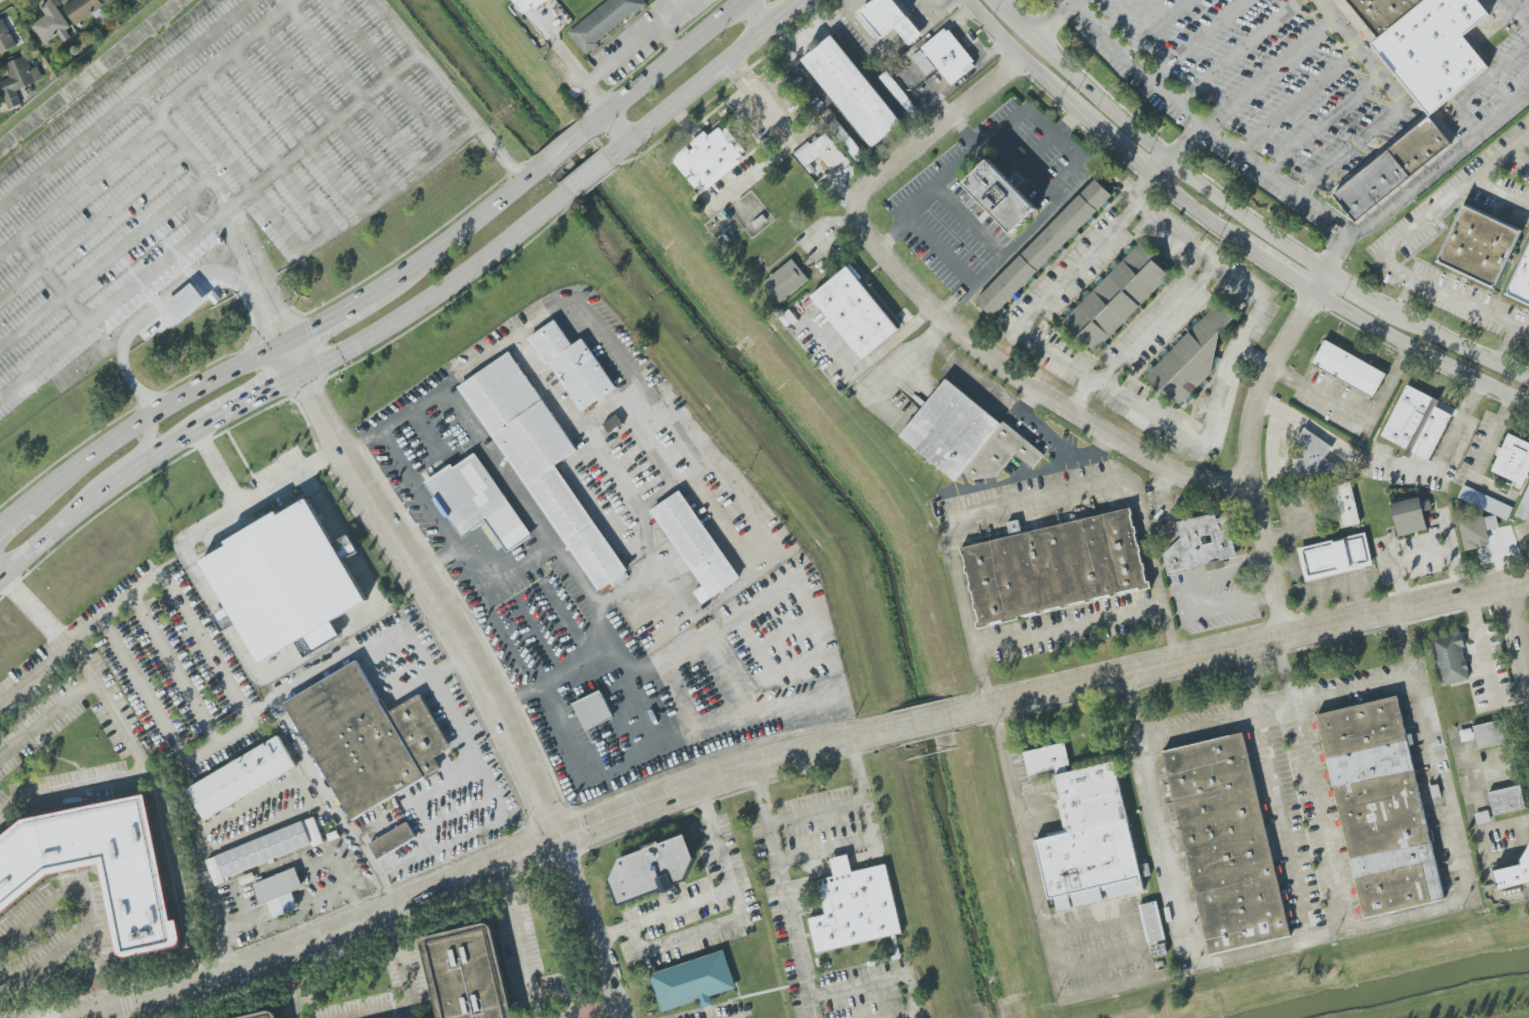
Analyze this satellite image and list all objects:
road: (333, 1)
road: (1065, 2)
road: (282, 3)
road: (288, 3)
road: (841, 3)
road: (847, 3)
building: (526, 5)
road: (978, 8)
building: (82, 9)
road: (757, 11)
road: (937, 13)
road: (1114, 14)
road: (1055, 15)
building: (890, 20)
building: (604, 21)
road: (1026, 21)
road: (927, 22)
building: (52, 25)
road: (1155, 28)
road: (912, 35)
road: (668, 37)
road: (1005, 38)
building: (6, 39)
road: (1197, 40)
road: (871, 42)
building: (1426, 44)
road: (199, 46)
road: (559, 46)
road: (624, 50)
road: (1238, 51)
building: (949, 56)
road: (1056, 57)
road: (221, 58)
road: (423, 63)
road: (662, 63)
building: (923, 63)
road: (390, 74)
road: (702, 79)
building: (19, 80)
building: (892, 86)
road: (1480, 87)
road: (1250, 90)
building: (852, 91)
road: (1065, 96)
road: (1299, 102)
road: (1400, 105)
road: (328, 111)
road: (376, 115)
road: (1324, 125)
road: (1206, 127)
road: (617, 128)
road: (300, 131)
road: (786, 134)
road: (969, 134)
road: (1052, 138)
building: (846, 140)
road: (563, 146)
road: (71, 150)
road: (500, 151)
building: (821, 152)
road: (268, 155)
road: (1132, 155)
building: (710, 158)
road: (1519, 159)
building: (1388, 169)
parking lot: (212, 171)
road: (240, 174)
road: (588, 177)
road: (1193, 179)
road: (1423, 179)
road: (209, 181)
road: (81, 186)
road: (1501, 195)
road: (1453, 196)
building: (997, 199)
road: (243, 206)
road: (1210, 219)
road: (233, 220)
road: (92, 225)
road: (971, 225)
road: (218, 226)
road: (207, 228)
road: (918, 229)
road: (459, 230)
road: (896, 235)
building: (1473, 241)
building: (1042, 247)
road: (411, 249)
road: (218, 252)
road: (103, 262)
road: (268, 263)
building: (1520, 274)
road: (231, 275)
road: (1291, 276)
building: (786, 281)
road: (55, 282)
road: (173, 287)
road: (1355, 289)
road: (440, 291)
road: (1451, 296)
building: (1116, 298)
building: (185, 303)
road: (274, 310)
road: (940, 311)
building: (855, 312)
road: (331, 316)
road: (155, 317)
road: (1158, 324)
road: (130, 332)
road: (107, 336)
traffic signals: (288, 341)
road: (1453, 343)
road: (1511, 348)
building: (1195, 351)
road: (1422, 351)
road: (1252, 358)
building: (572, 366)
road: (895, 368)
building: (1348, 369)
road: (192, 373)
traffic signals: (303, 373)
road: (218, 378)
road: (257, 396)
road: (1081, 396)
road: (1356, 413)
road: (1148, 414)
building: (1416, 424)
road: (670, 428)
road: (426, 430)
road: (481, 430)
building: (965, 436)
road: (362, 440)
road: (1102, 444)
road: (1250, 445)
road: (168, 447)
road: (142, 449)
road: (1444, 454)
road: (1486, 456)
building: (1313, 458)
road: (327, 459)
building: (1513, 460)
road: (1071, 461)
building: (540, 463)
road: (215, 468)
road: (73, 470)
road: (1285, 476)
building: (476, 501)
road: (1039, 502)
building: (1485, 502)
road: (240, 503)
building: (1346, 505)
building: (1524, 506)
road: (628, 514)
building: (1410, 515)
road: (61, 527)
building: (1476, 531)
building: (1200, 543)
building: (695, 545)
road: (1422, 555)
building: (1335, 556)
building: (1054, 567)
road: (1296, 574)
road: (166, 578)
building: (287, 582)
road: (427, 588)
road: (1338, 588)
road: (1180, 602)
road: (1070, 629)
road: (1518, 631)
road: (616, 637)
road: (1241, 645)
road: (1480, 651)
road: (677, 655)
building: (1450, 658)
road: (1527, 659)
road: (50, 661)
road: (449, 665)
road: (176, 669)
road: (1281, 672)
road: (1250, 679)
road: (1276, 709)
building: (593, 711)
road: (705, 718)
road: (48, 720)
road: (920, 722)
building: (1484, 734)
building: (366, 739)
road: (578, 763)
road: (720, 776)
building: (241, 778)
road: (489, 783)
road: (74, 785)
building: (1506, 800)
road: (161, 802)
building: (1380, 807)
road: (817, 813)
building: (1482, 817)
road: (1321, 818)
road: (1285, 826)
building: (1085, 833)
building: (333, 835)
road: (872, 836)
traffic signals: (561, 839)
building: (392, 841)
building: (1225, 844)
road: (210, 850)
building: (264, 850)
road: (843, 864)
building: (652, 870)
road: (272, 874)
building: (1513, 874)
building: (247, 878)
road: (381, 880)
road: (783, 880)
building: (279, 892)
building: (137, 895)
road: (84, 906)
building: (854, 907)
road: (665, 914)
road: (739, 914)
building: (1152, 922)
road: (595, 927)
road: (1330, 934)
road: (321, 935)
road: (1097, 959)
road: (530, 961)
road: (1055, 970)
building: (468, 976)
road: (884, 979)
building: (693, 982)
road: (296, 983)
road: (811, 1007)
traffic signals: (101, 1011)
building: (267, 1016)

